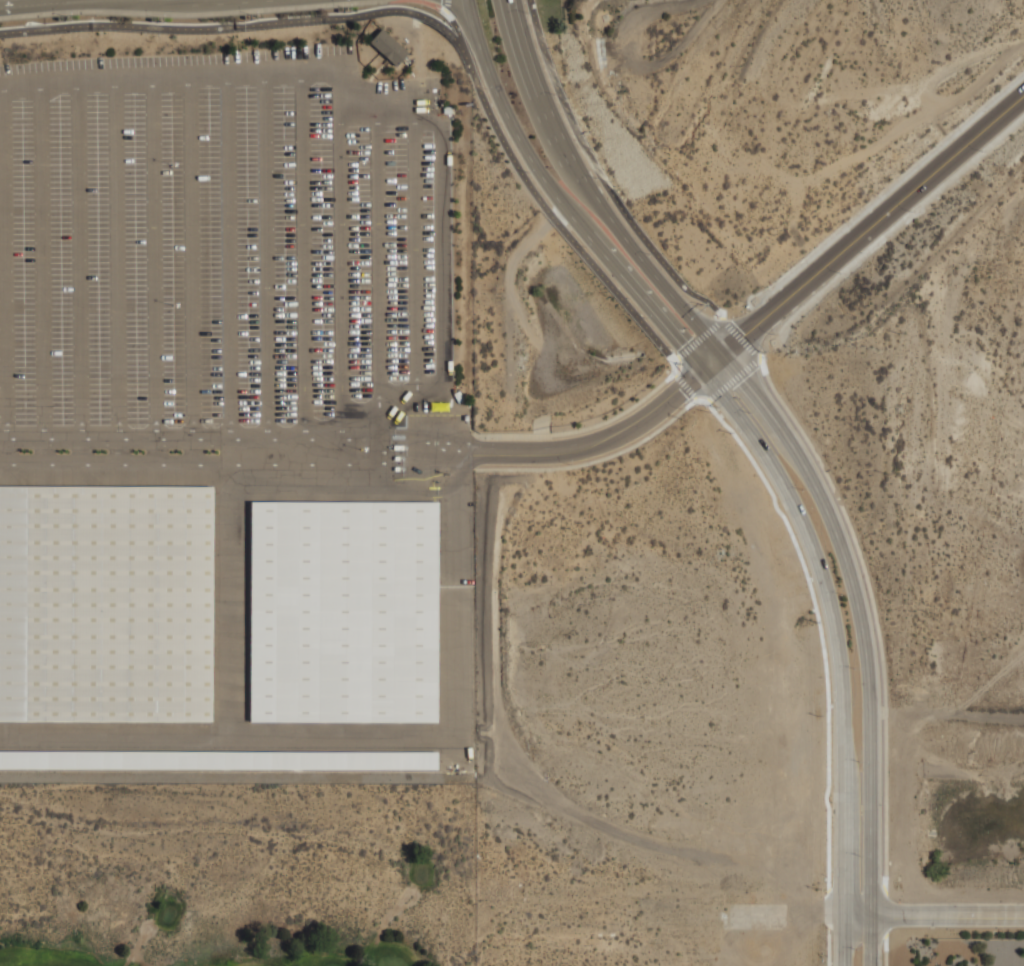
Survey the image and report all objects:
road: (466, 17)
road: (242, 27)
building: (388, 47)
road: (170, 76)
road: (539, 81)
road: (605, 188)
road: (547, 201)
road: (558, 201)
road: (872, 224)
road: (439, 232)
road: (414, 254)
road: (265, 255)
road: (228, 256)
road: (302, 256)
road: (189, 257)
road: (154, 258)
road: (116, 259)
road: (79, 260)
road: (42, 261)
road: (4, 262)
road: (378, 263)
road: (341, 274)
road: (510, 291)
road: (519, 310)
traffic signals: (722, 354)
traffic signals: (702, 371)
parking lot: (231, 420)
road: (409, 432)
road: (609, 436)
road: (180, 439)
road: (418, 441)
building: (398, 447)
road: (6, 451)
road: (42, 451)
road: (80, 451)
road: (116, 451)
road: (155, 451)
road: (192, 451)
road: (414, 452)
building: (396, 458)
road: (417, 463)
road: (181, 464)
building: (396, 468)
road: (417, 473)
road: (420, 491)
road: (820, 499)
building: (105, 604)
building: (344, 611)
road: (834, 625)
building: (219, 758)
park: (236, 874)
road: (859, 914)
road: (948, 914)
road: (845, 940)
road: (872, 940)

